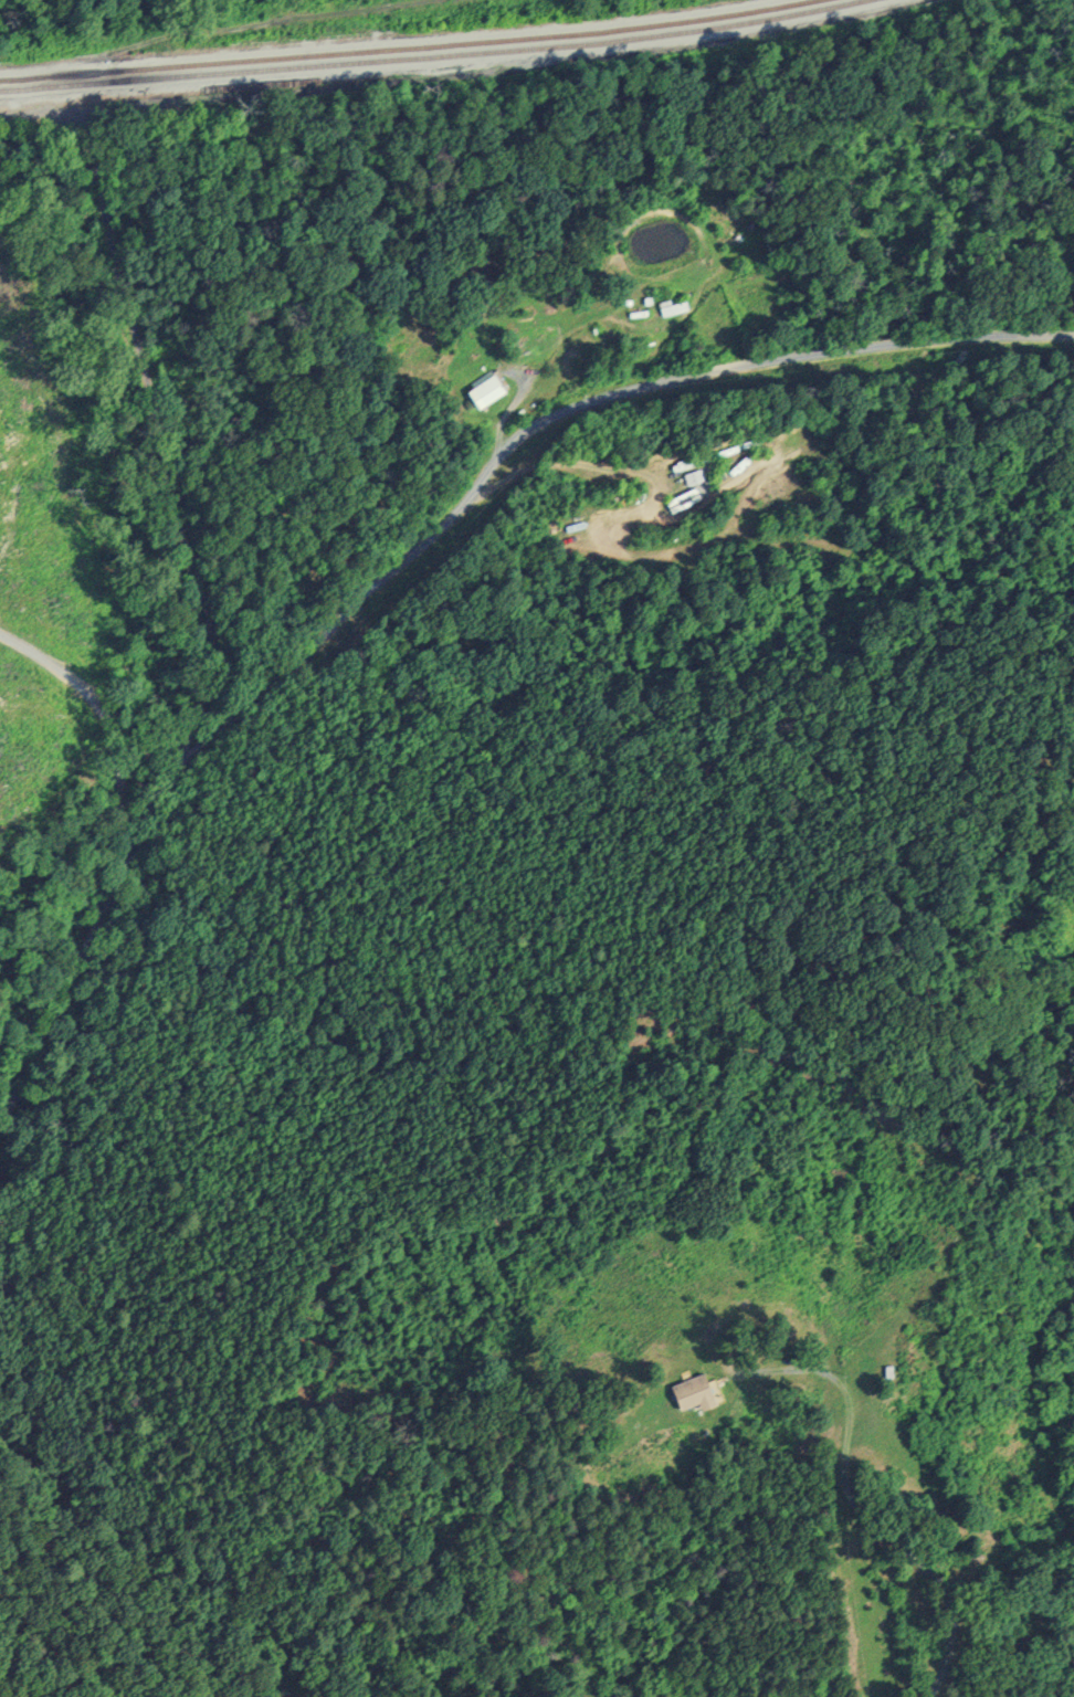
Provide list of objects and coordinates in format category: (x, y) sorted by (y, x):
railway: (413, 50)
railway: (439, 57)
building: (673, 305)
building: (486, 387)
road: (550, 422)
building: (693, 476)
building: (681, 499)
road: (213, 640)
road: (108, 725)
road: (116, 820)
road: (842, 1388)
building: (693, 1390)
road: (937, 1582)

